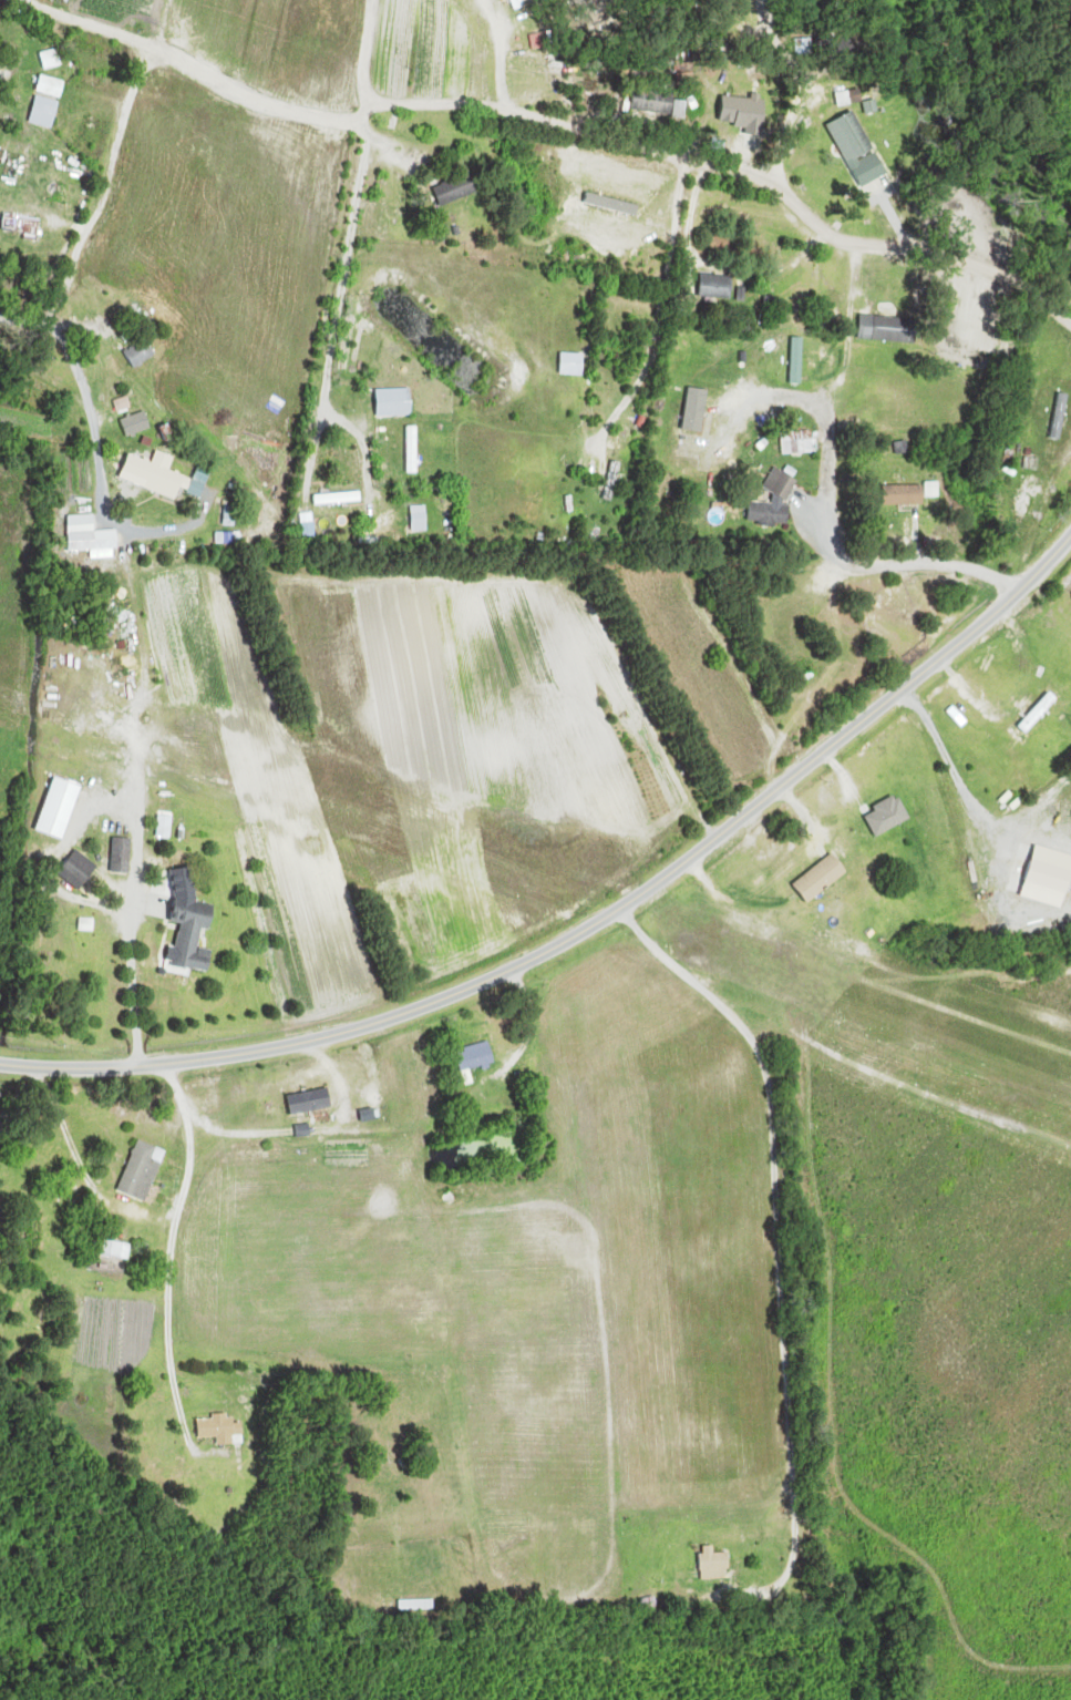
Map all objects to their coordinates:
building: (522, 4)
building: (102, 43)
road: (184, 58)
building: (52, 60)
road: (374, 63)
building: (104, 83)
building: (49, 102)
building: (749, 107)
building: (855, 137)
road: (737, 170)
building: (460, 191)
road: (105, 207)
building: (23, 224)
building: (721, 287)
road: (334, 315)
building: (892, 329)
building: (142, 352)
road: (48, 378)
building: (397, 401)
building: (1062, 414)
building: (138, 422)
building: (801, 441)
building: (172, 478)
building: (785, 483)
road: (840, 487)
building: (907, 494)
building: (1032, 494)
building: (344, 499)
building: (422, 518)
building: (84, 533)
road: (113, 694)
building: (1036, 716)
building: (892, 816)
building: (123, 856)
building: (80, 870)
building: (824, 878)
road: (593, 925)
building: (194, 939)
building: (478, 1057)
building: (311, 1102)
building: (144, 1170)
road: (783, 1186)
building: (115, 1249)
road: (175, 1257)
building: (223, 1428)
building: (515, 1544)
building: (718, 1564)
building: (419, 1605)

